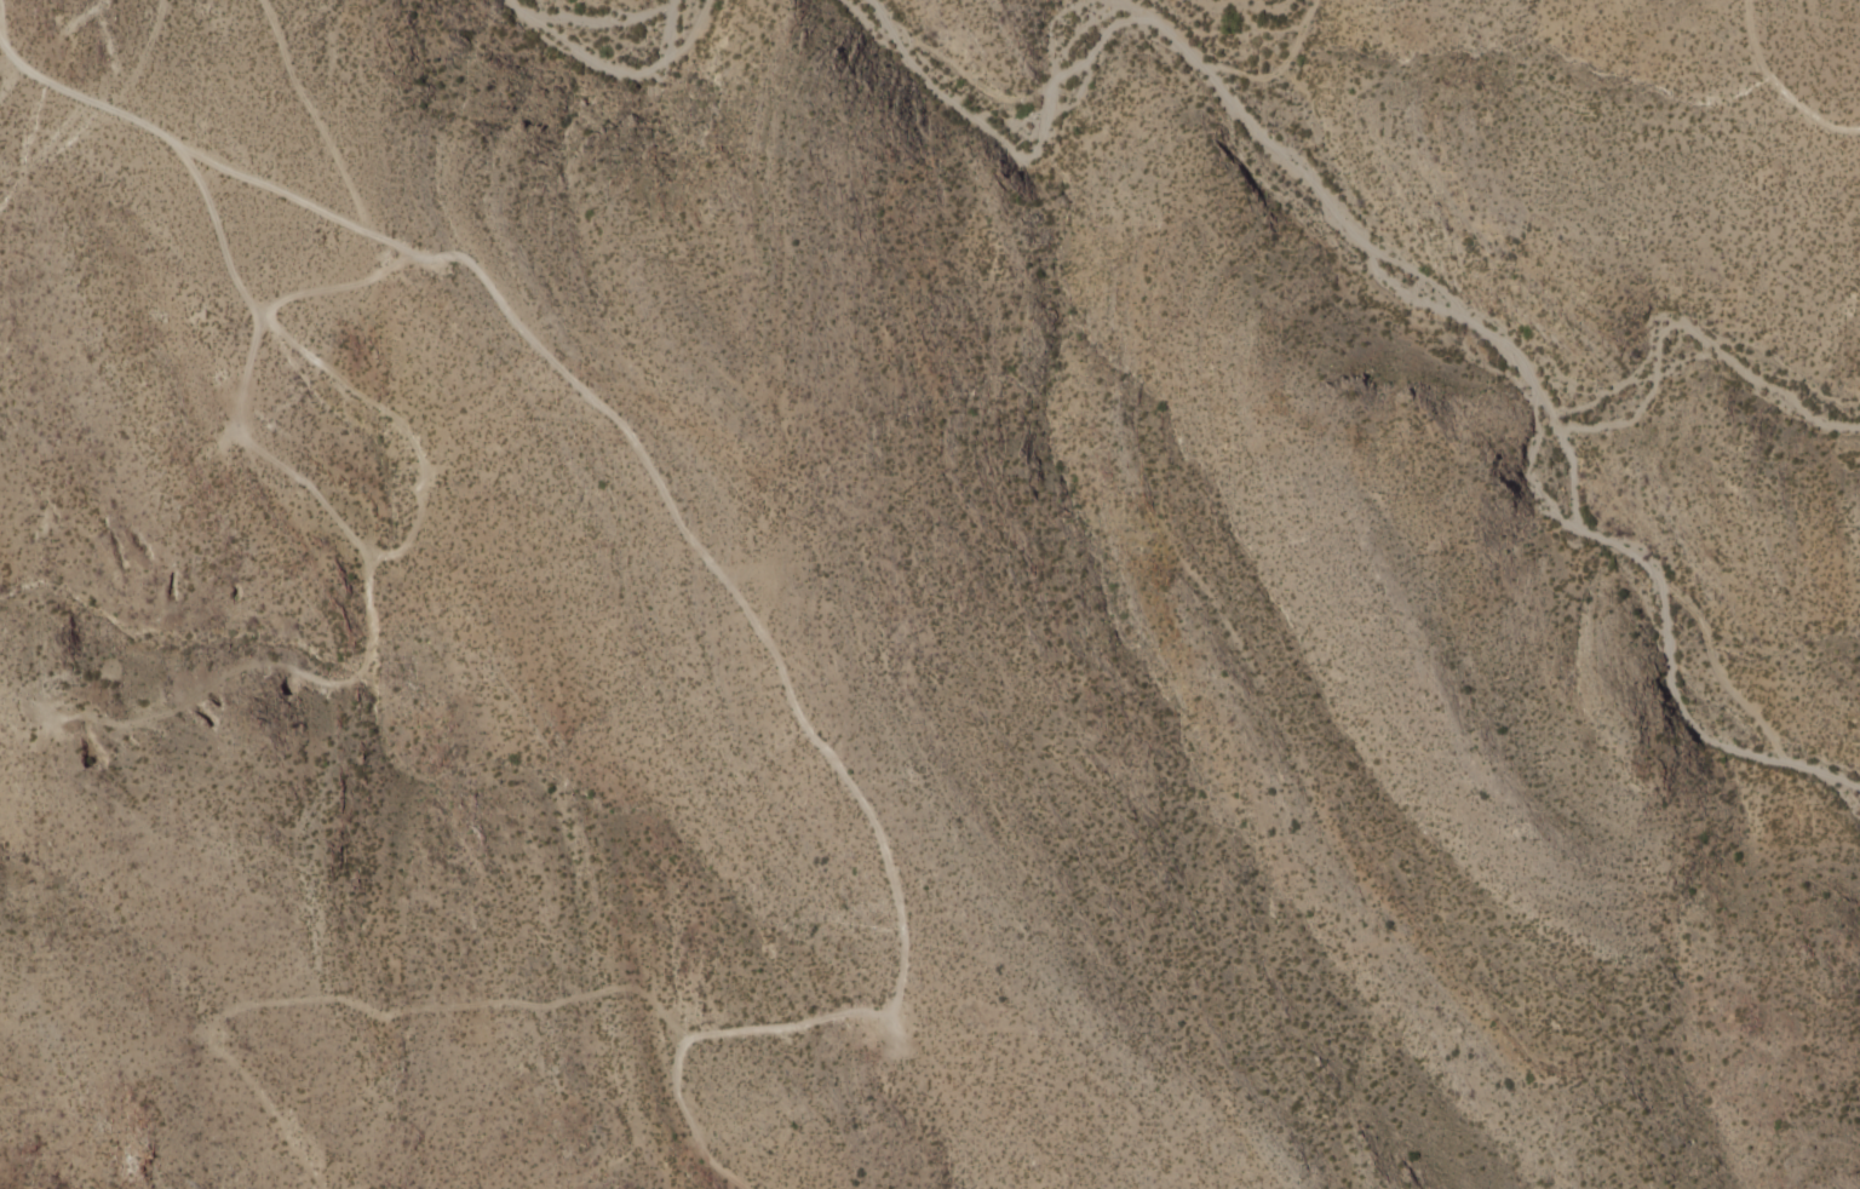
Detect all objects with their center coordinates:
road: (1, 38)
road: (618, 68)
road: (312, 115)
road: (205, 160)
road: (1387, 277)
road: (241, 381)
road: (402, 545)
road: (827, 754)
road: (355, 1006)

